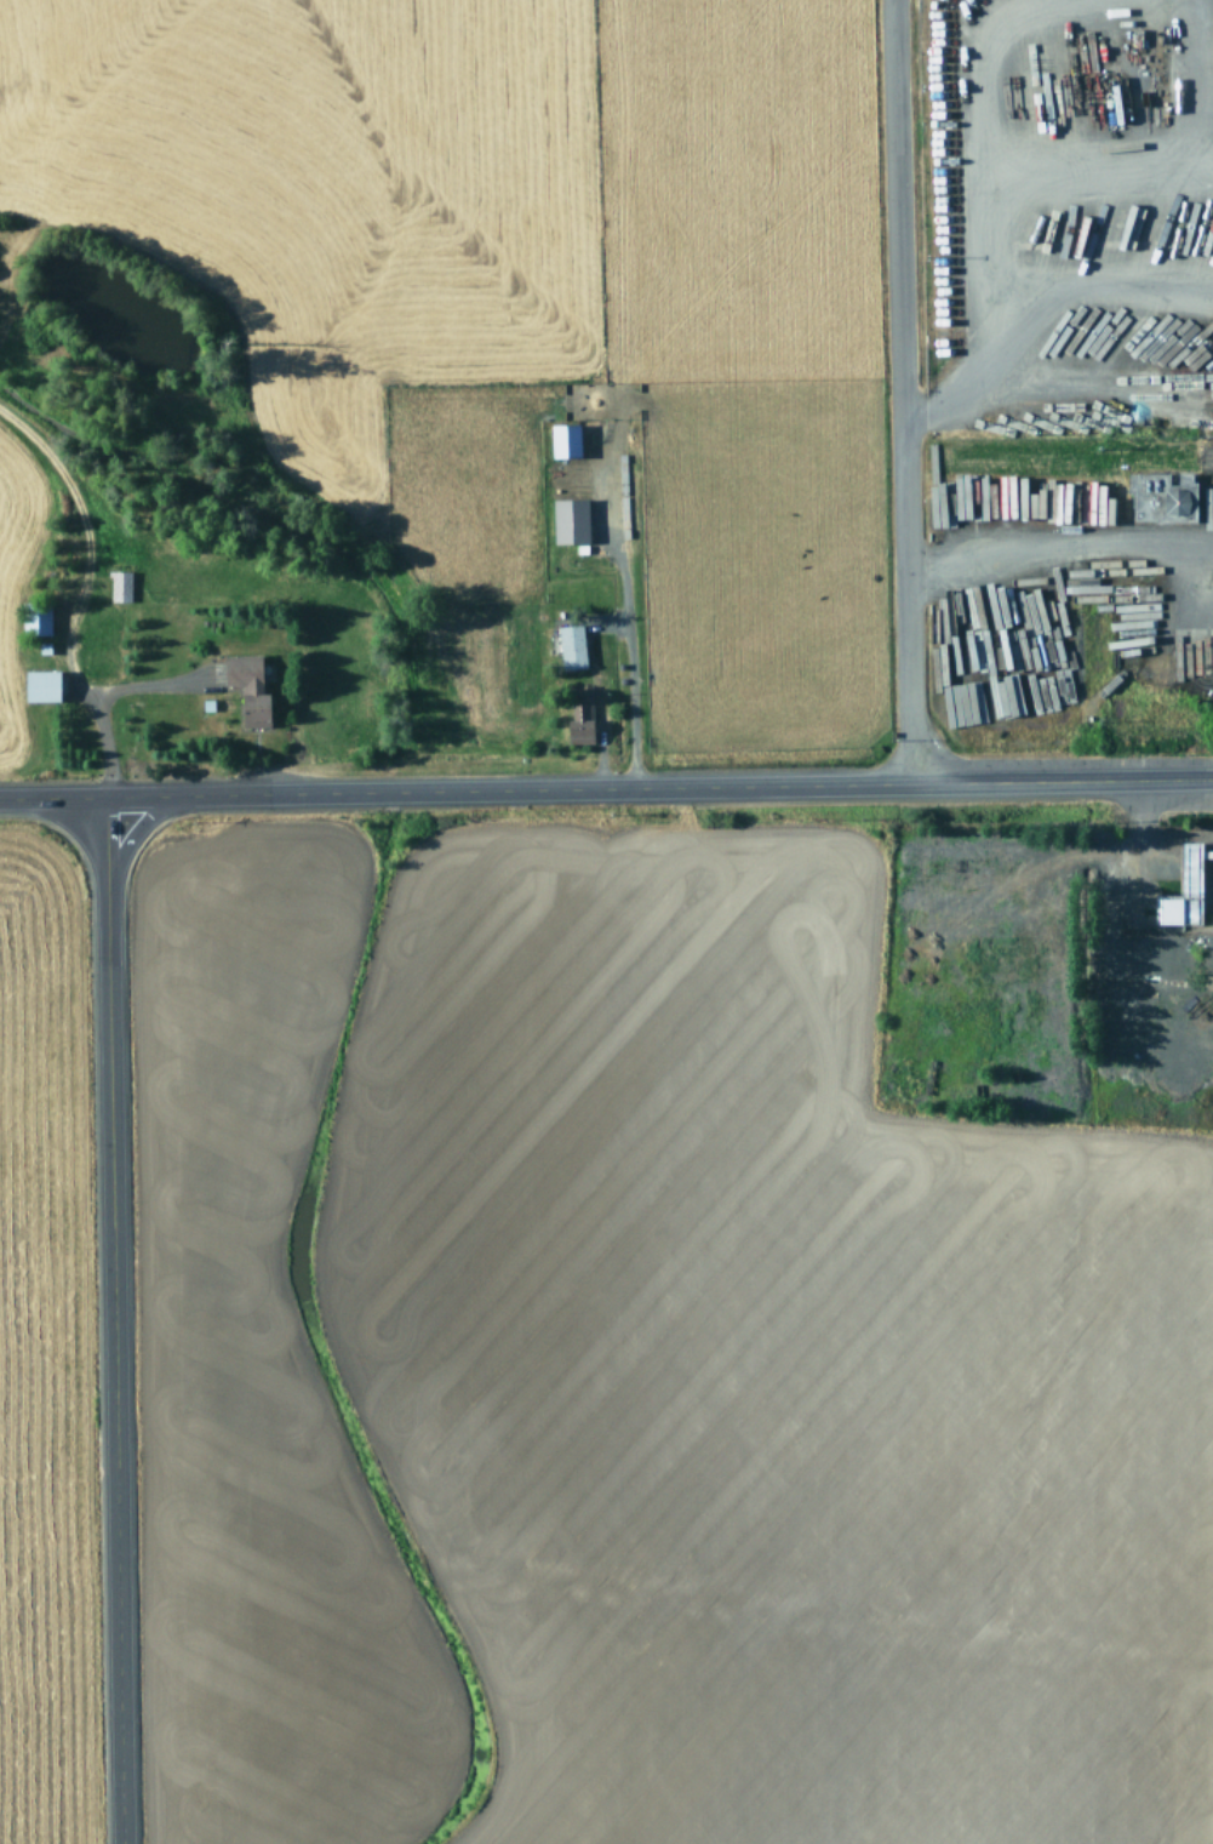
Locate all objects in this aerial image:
crop: (442, 361)
road: (903, 392)
building: (562, 440)
building: (1158, 496)
building: (567, 521)
building: (33, 620)
building: (570, 647)
building: (39, 686)
building: (246, 689)
building: (579, 718)
road: (656, 789)
road: (50, 801)
building: (1180, 890)
building: (1212, 921)
road: (108, 1323)
crop: (28, 1369)

